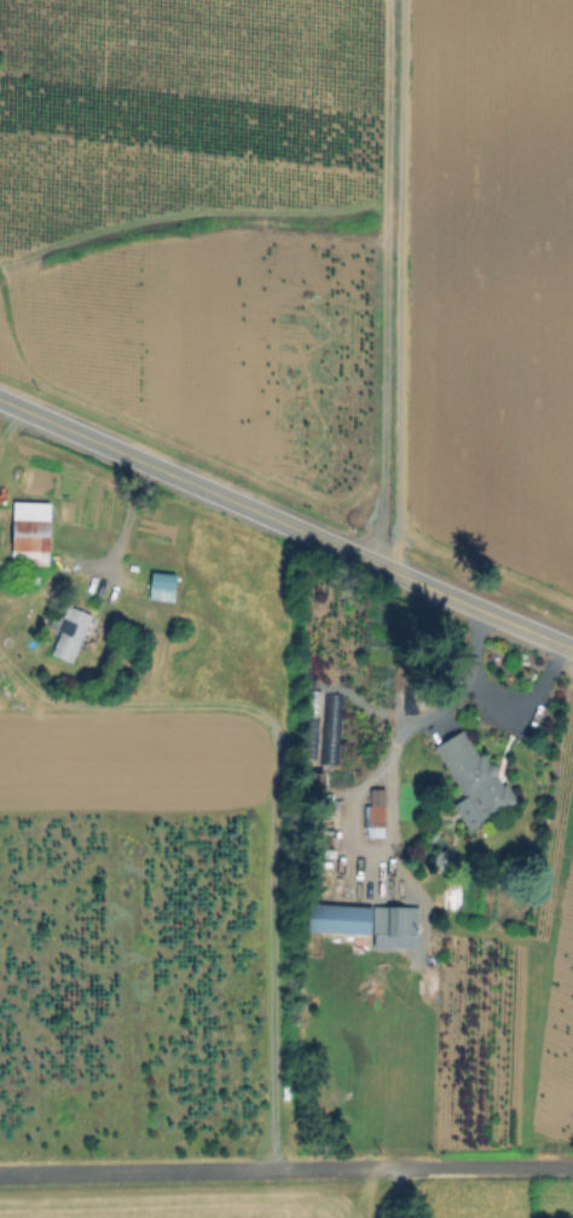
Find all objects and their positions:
crop: (487, 277)
road: (285, 523)
road: (122, 527)
building: (31, 532)
building: (68, 628)
road: (508, 706)
road: (378, 776)
building: (475, 781)
building: (377, 816)
building: (341, 918)
building: (393, 919)
road: (285, 1173)
road: (395, 1195)
crop: (191, 1207)

